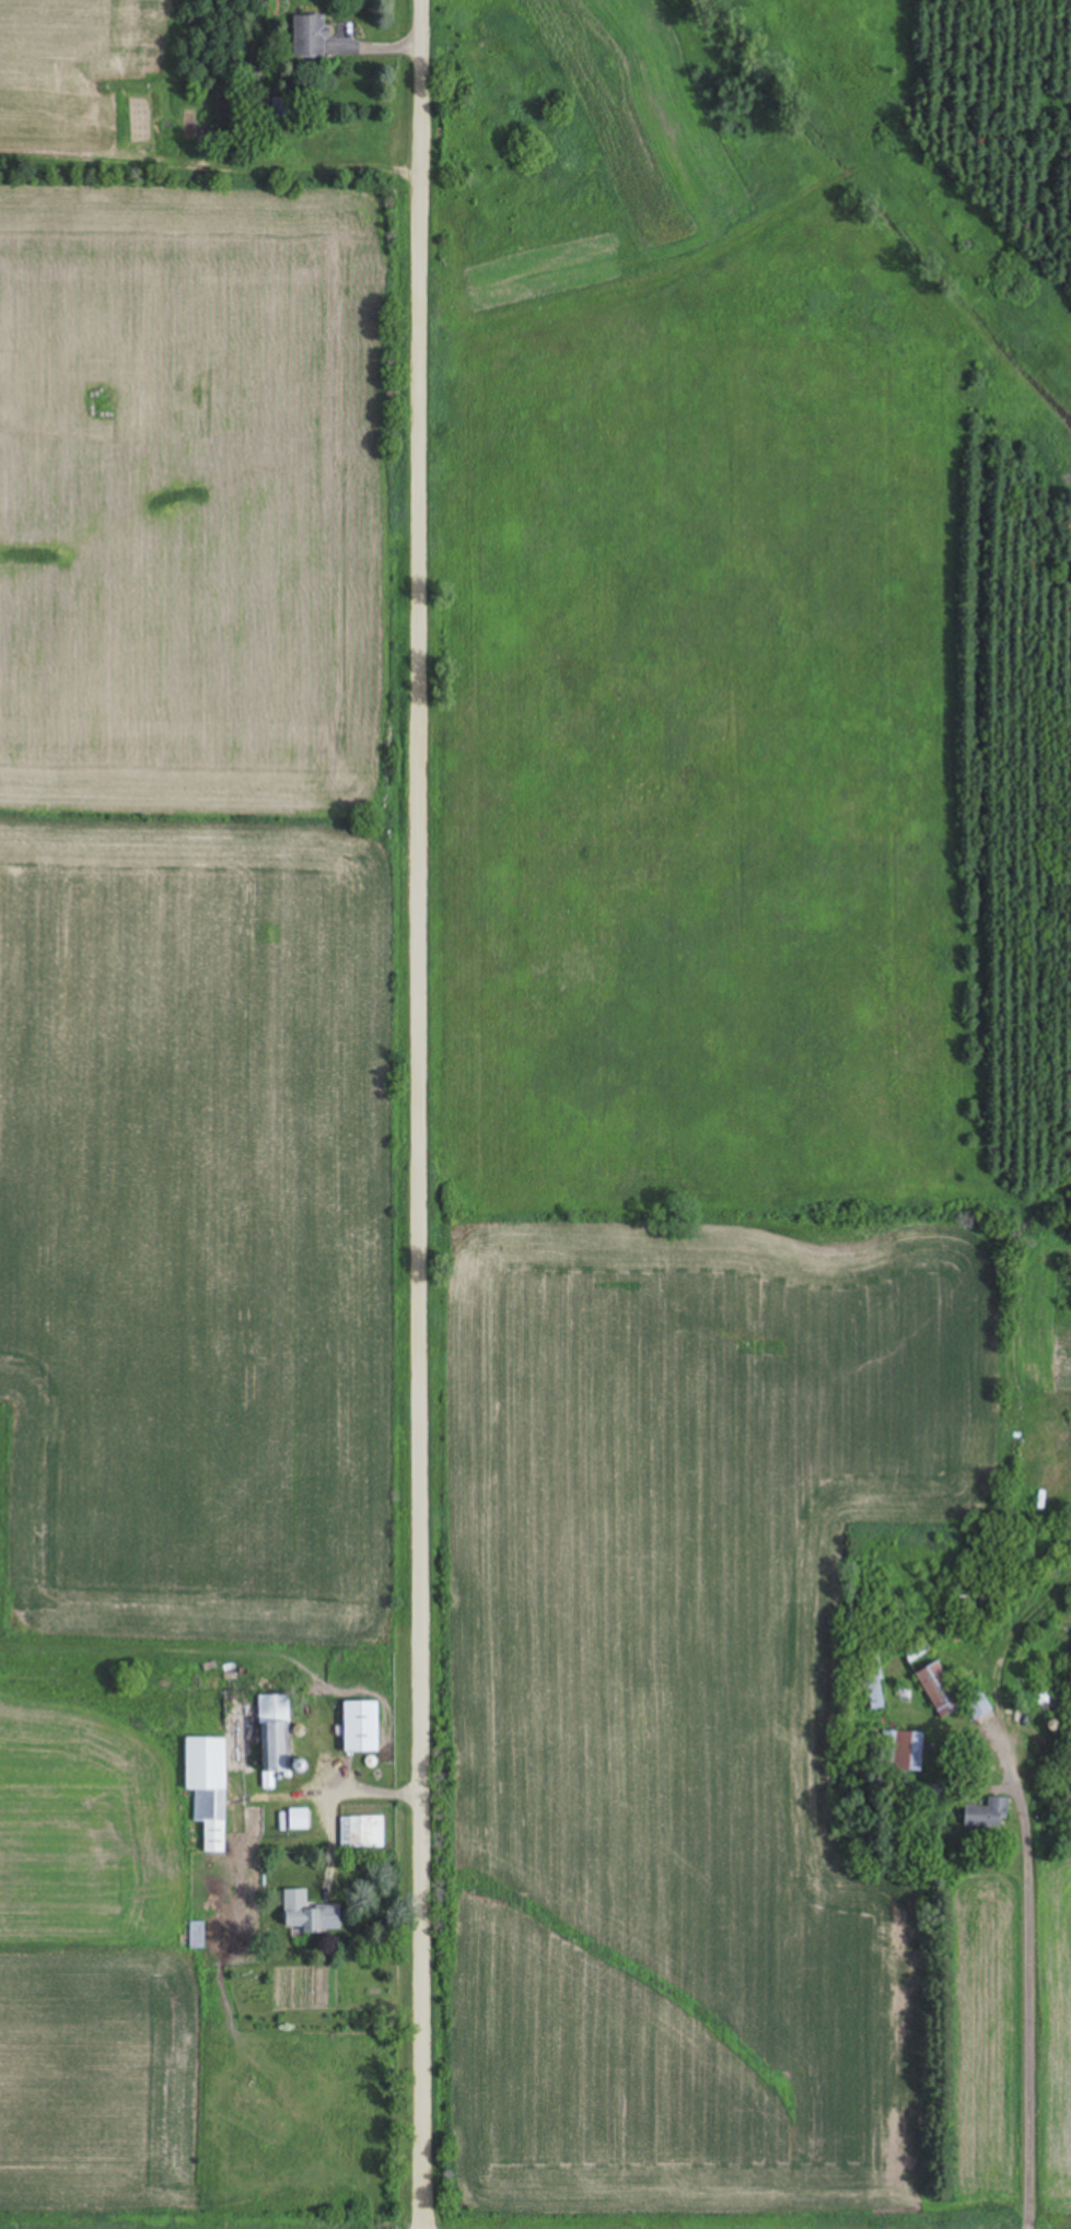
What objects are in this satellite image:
building: (309, 36)
building: (279, 109)
road: (410, 1113)
building: (873, 1679)
building: (942, 1683)
building: (1052, 1690)
building: (361, 1727)
building: (275, 1738)
building: (900, 1755)
building: (208, 1787)
building: (987, 1814)
building: (361, 1833)
building: (313, 1917)
building: (197, 1934)
road: (1037, 2020)

